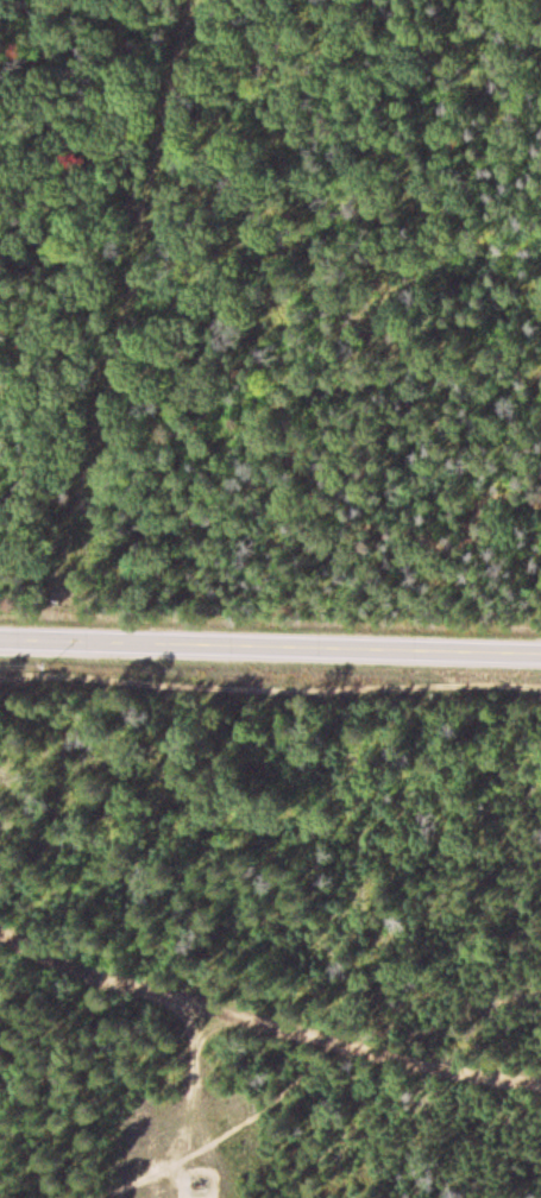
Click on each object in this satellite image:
road: (270, 651)
road: (270, 692)
road: (262, 1015)
road: (302, 1083)
petroleum well: (205, 1181)

